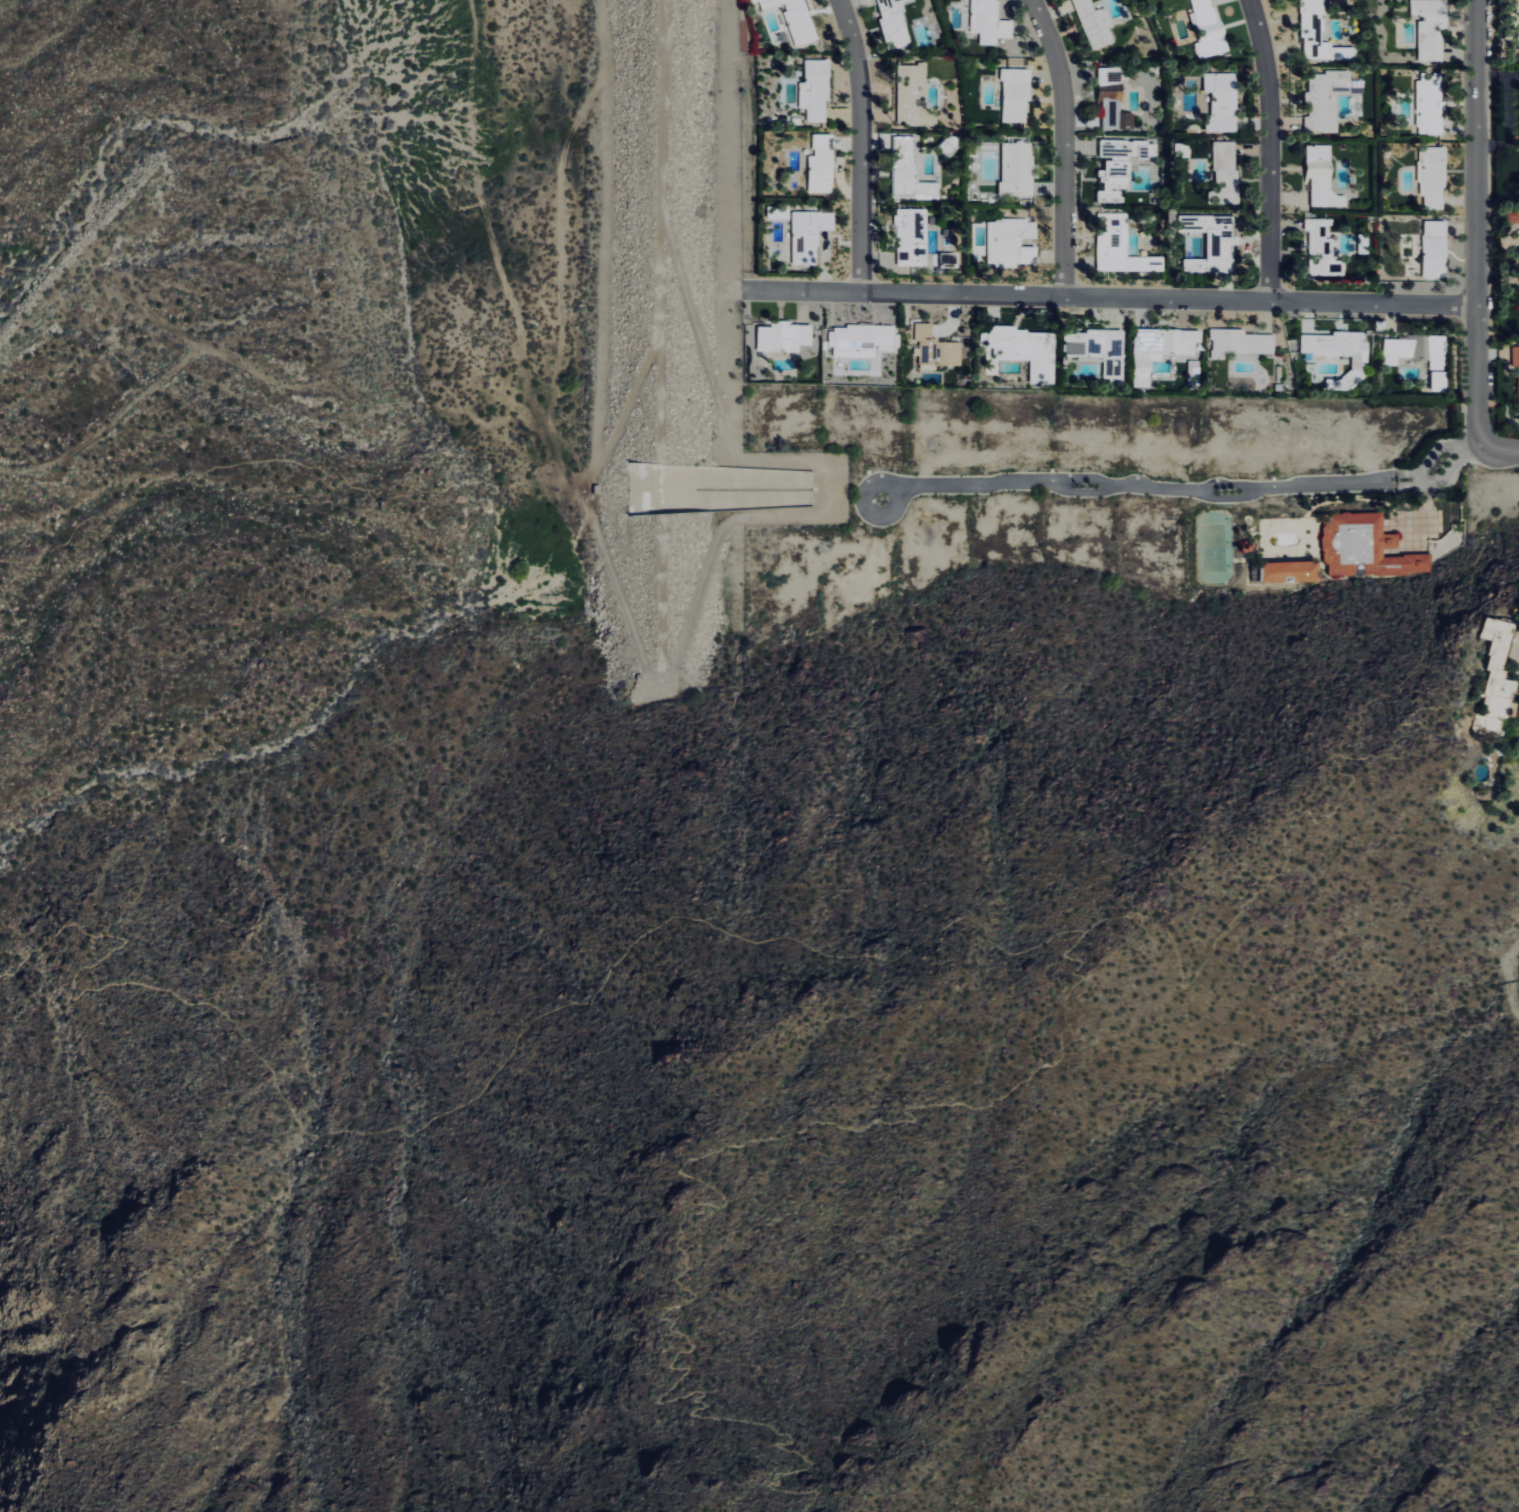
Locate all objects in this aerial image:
building: (795, 18)
building: (987, 21)
building: (1094, 23)
building: (1430, 27)
building: (1209, 29)
building: (1109, 75)
building: (815, 89)
building: (1016, 94)
building: (1328, 97)
building: (1220, 101)
building: (1430, 104)
building: (1112, 112)
road: (861, 144)
road: (1064, 145)
road: (1270, 148)
building: (1182, 149)
building: (822, 163)
building: (1118, 165)
building: (1017, 166)
building: (910, 171)
building: (1321, 175)
building: (1432, 176)
road: (1474, 224)
building: (809, 234)
building: (911, 236)
building: (1011, 241)
building: (1211, 241)
dam: (656, 242)
building: (1120, 245)
building: (1435, 248)
road: (1114, 296)
building: (784, 335)
building: (863, 339)
building: (1241, 341)
building: (936, 347)
building: (1097, 348)
building: (1026, 349)
building: (1160, 349)
building: (1416, 349)
building: (1515, 354)
road: (1498, 449)
road: (171, 478)
road: (1182, 489)
road: (241, 522)
building: (1367, 548)
building: (1289, 571)
dam: (657, 594)
road: (767, 605)
road: (680, 645)
road: (1508, 979)
road: (462, 1096)
road: (954, 1106)

